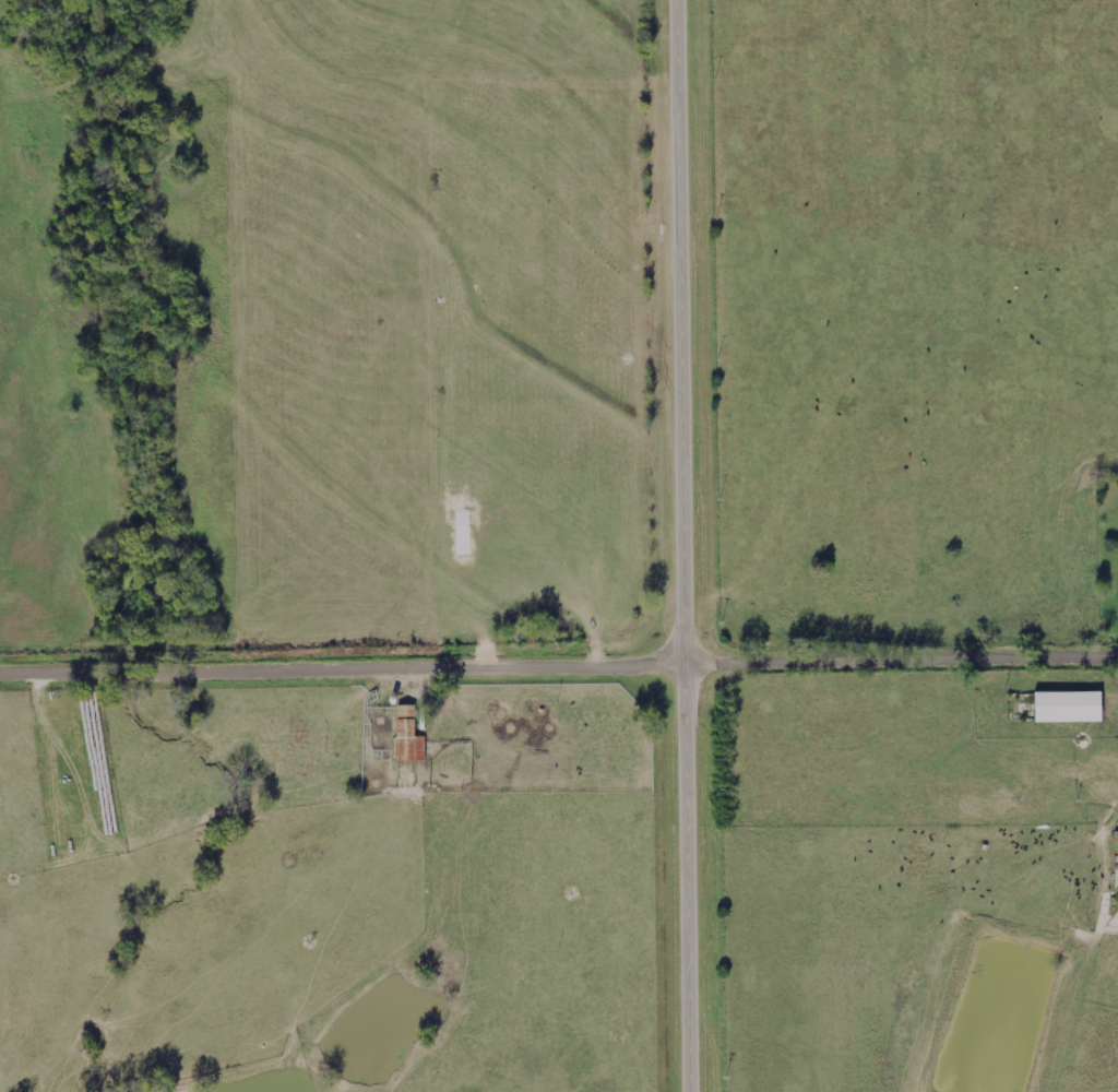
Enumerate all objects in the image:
road: (680, 546)
road: (559, 669)
building: (1069, 707)
building: (409, 736)
building: (1117, 863)

